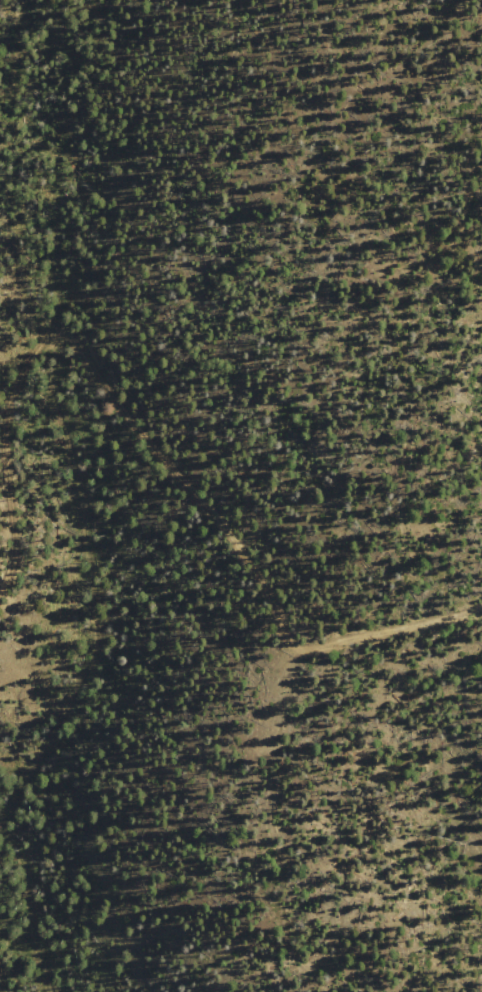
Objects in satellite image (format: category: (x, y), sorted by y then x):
road: (202, 355)

